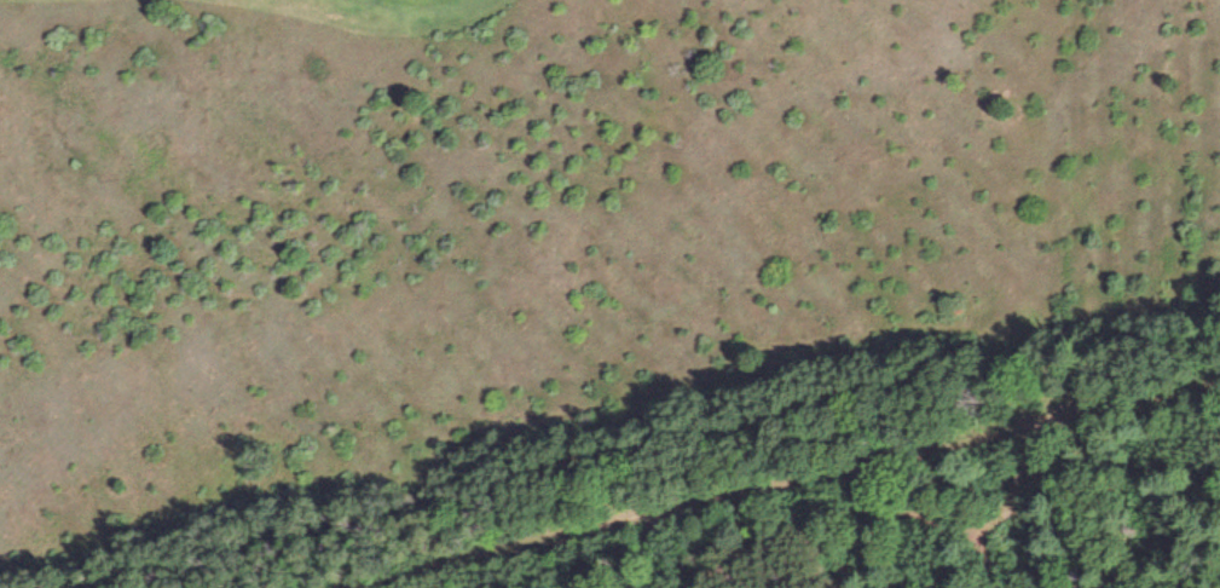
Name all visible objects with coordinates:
park: (319, 22)

